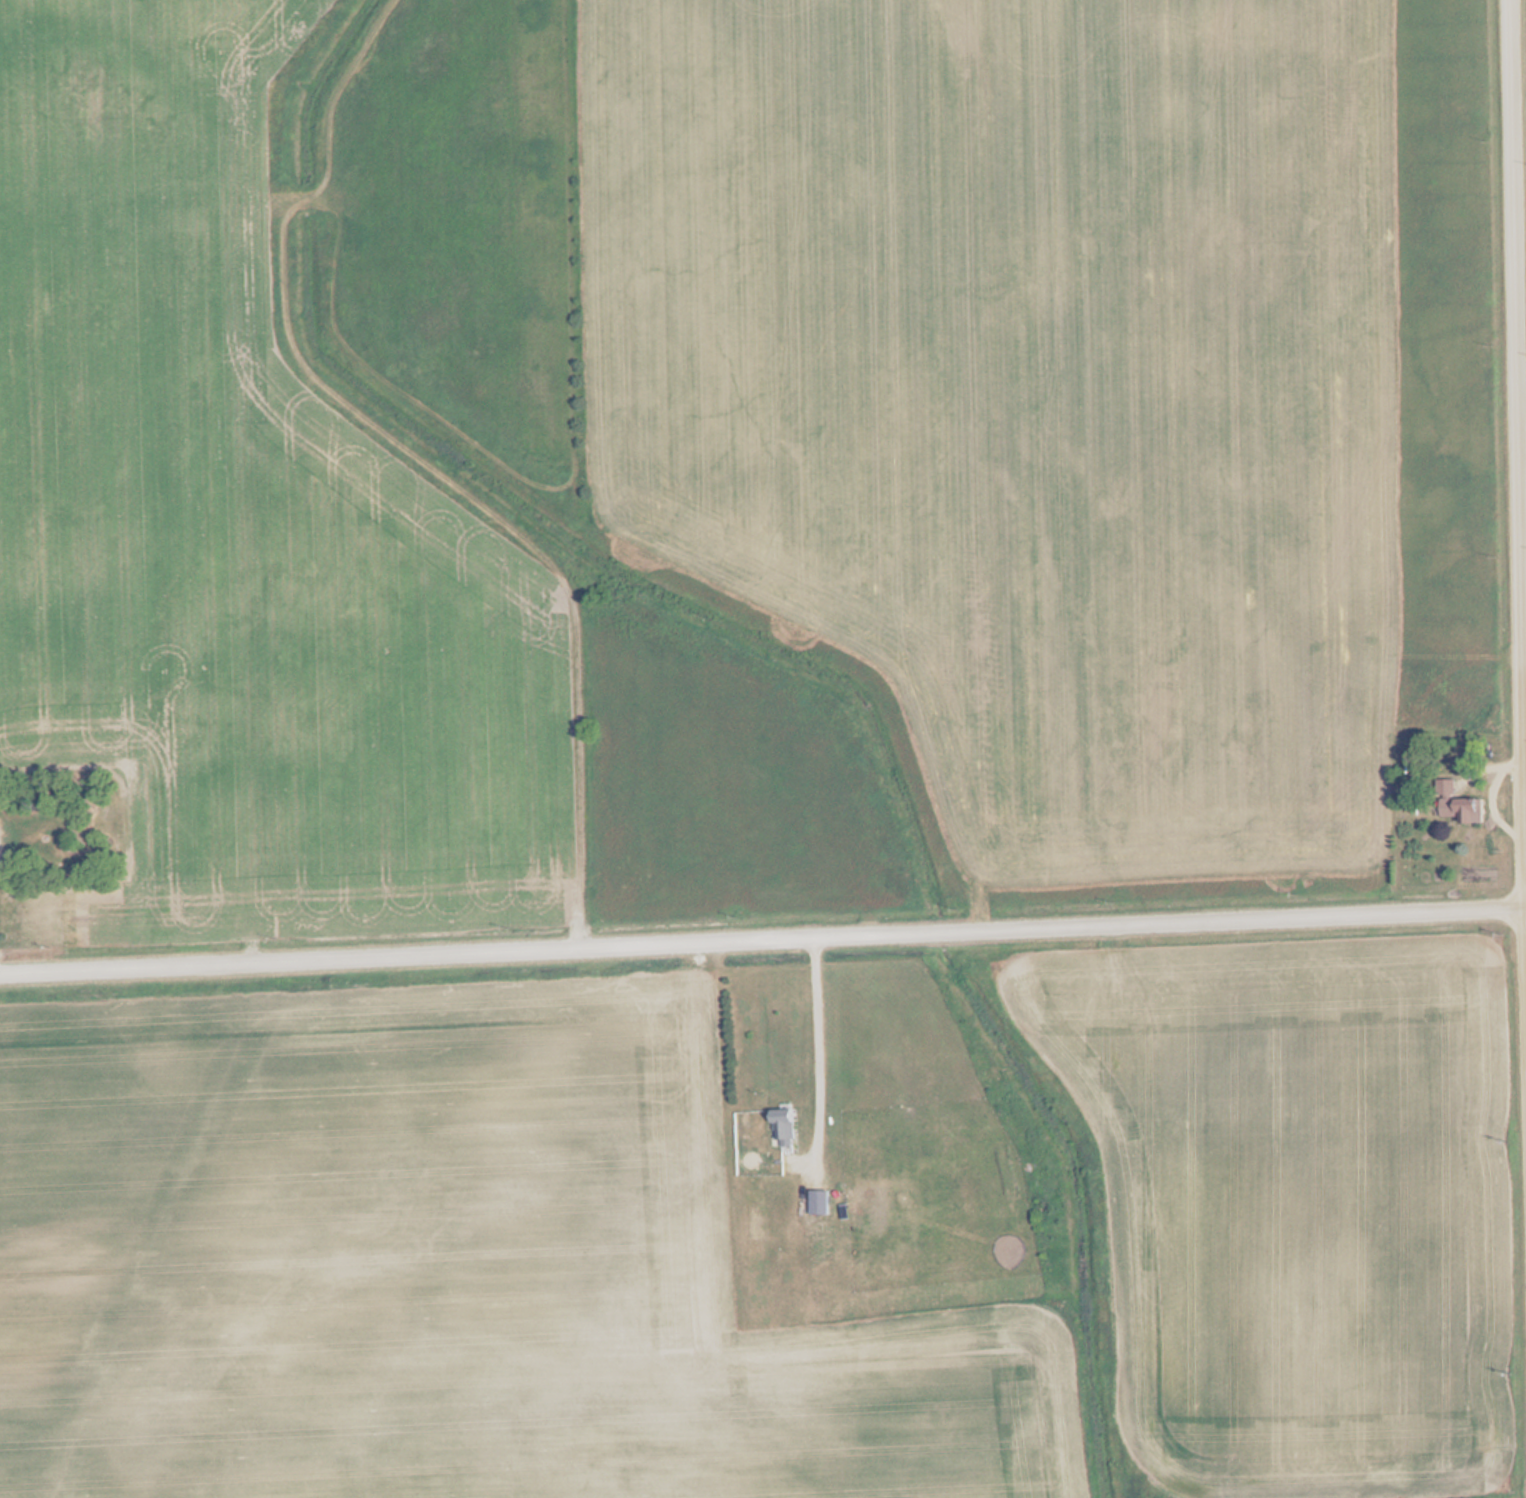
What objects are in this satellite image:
road: (1521, 299)
building: (1454, 803)
road: (763, 937)
building: (892, 977)
building: (781, 1127)
building: (861, 1200)
building: (817, 1202)

